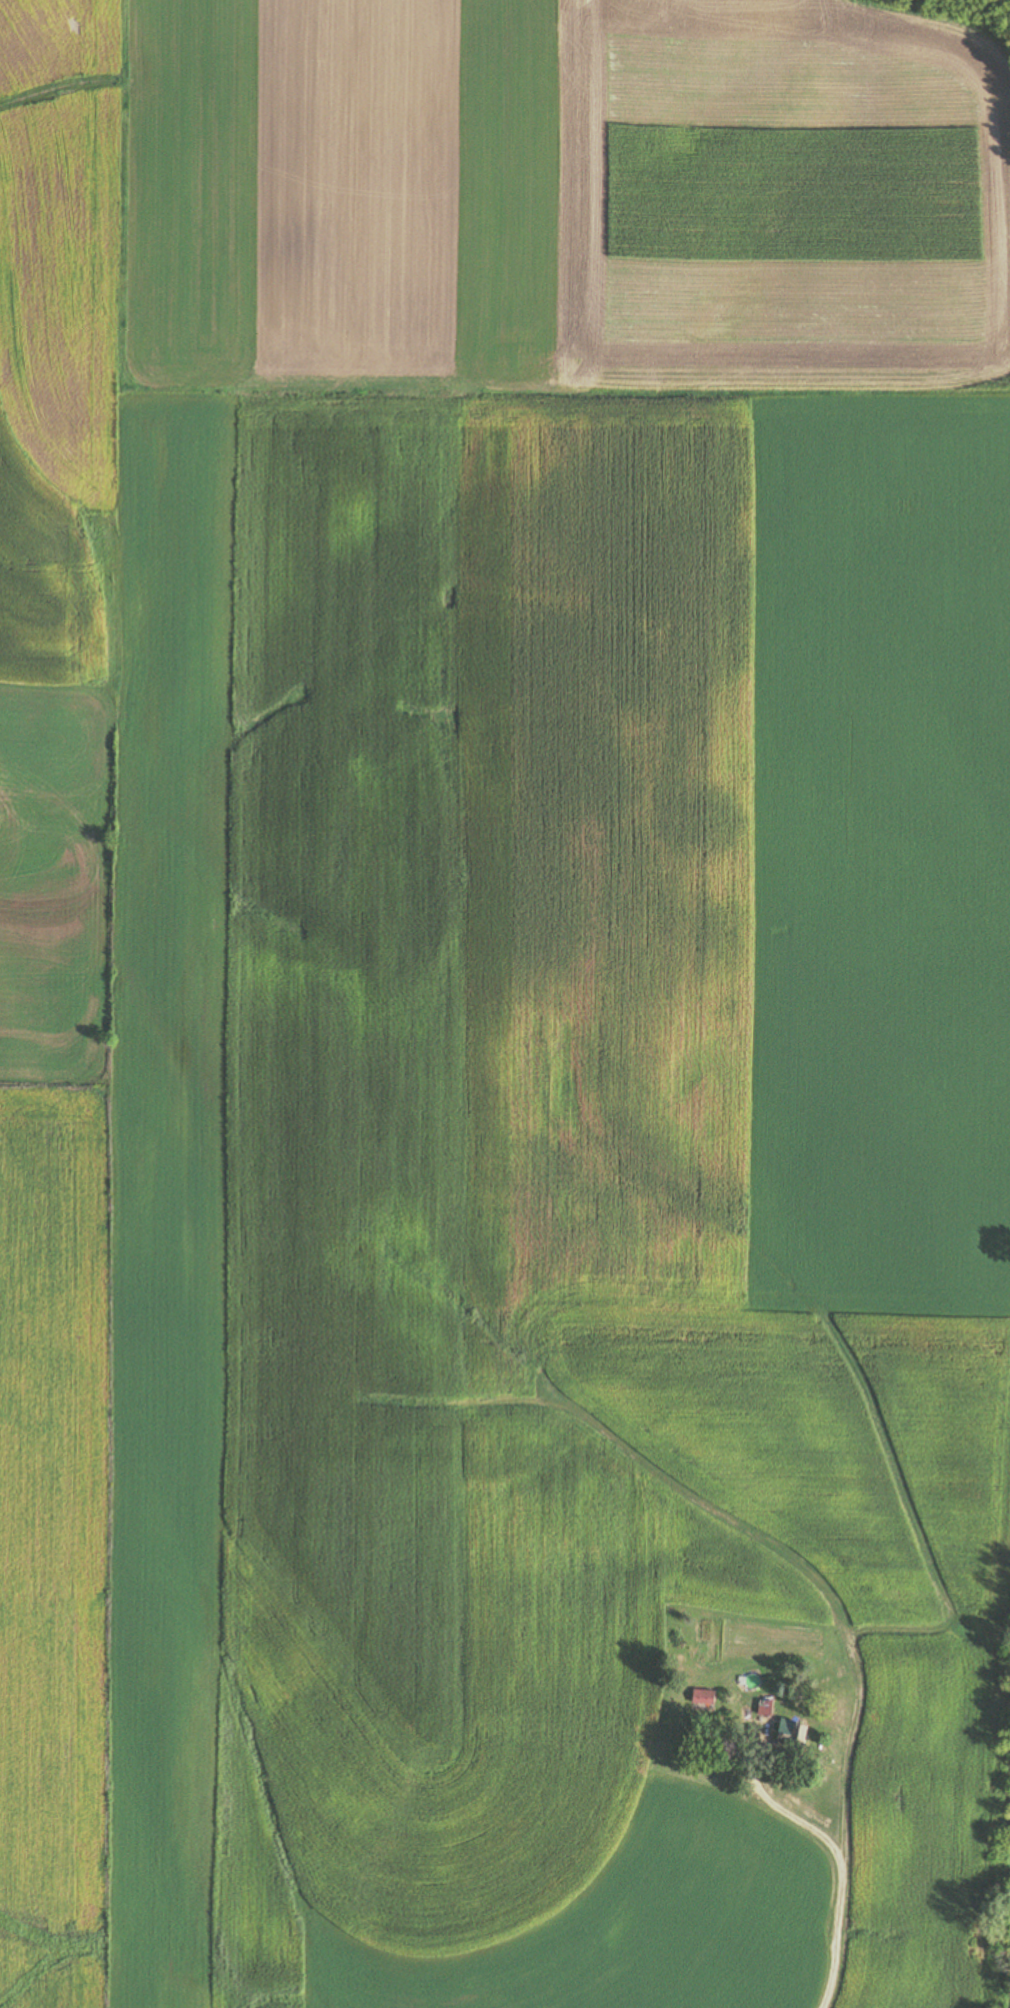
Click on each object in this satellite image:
road: (828, 1852)

